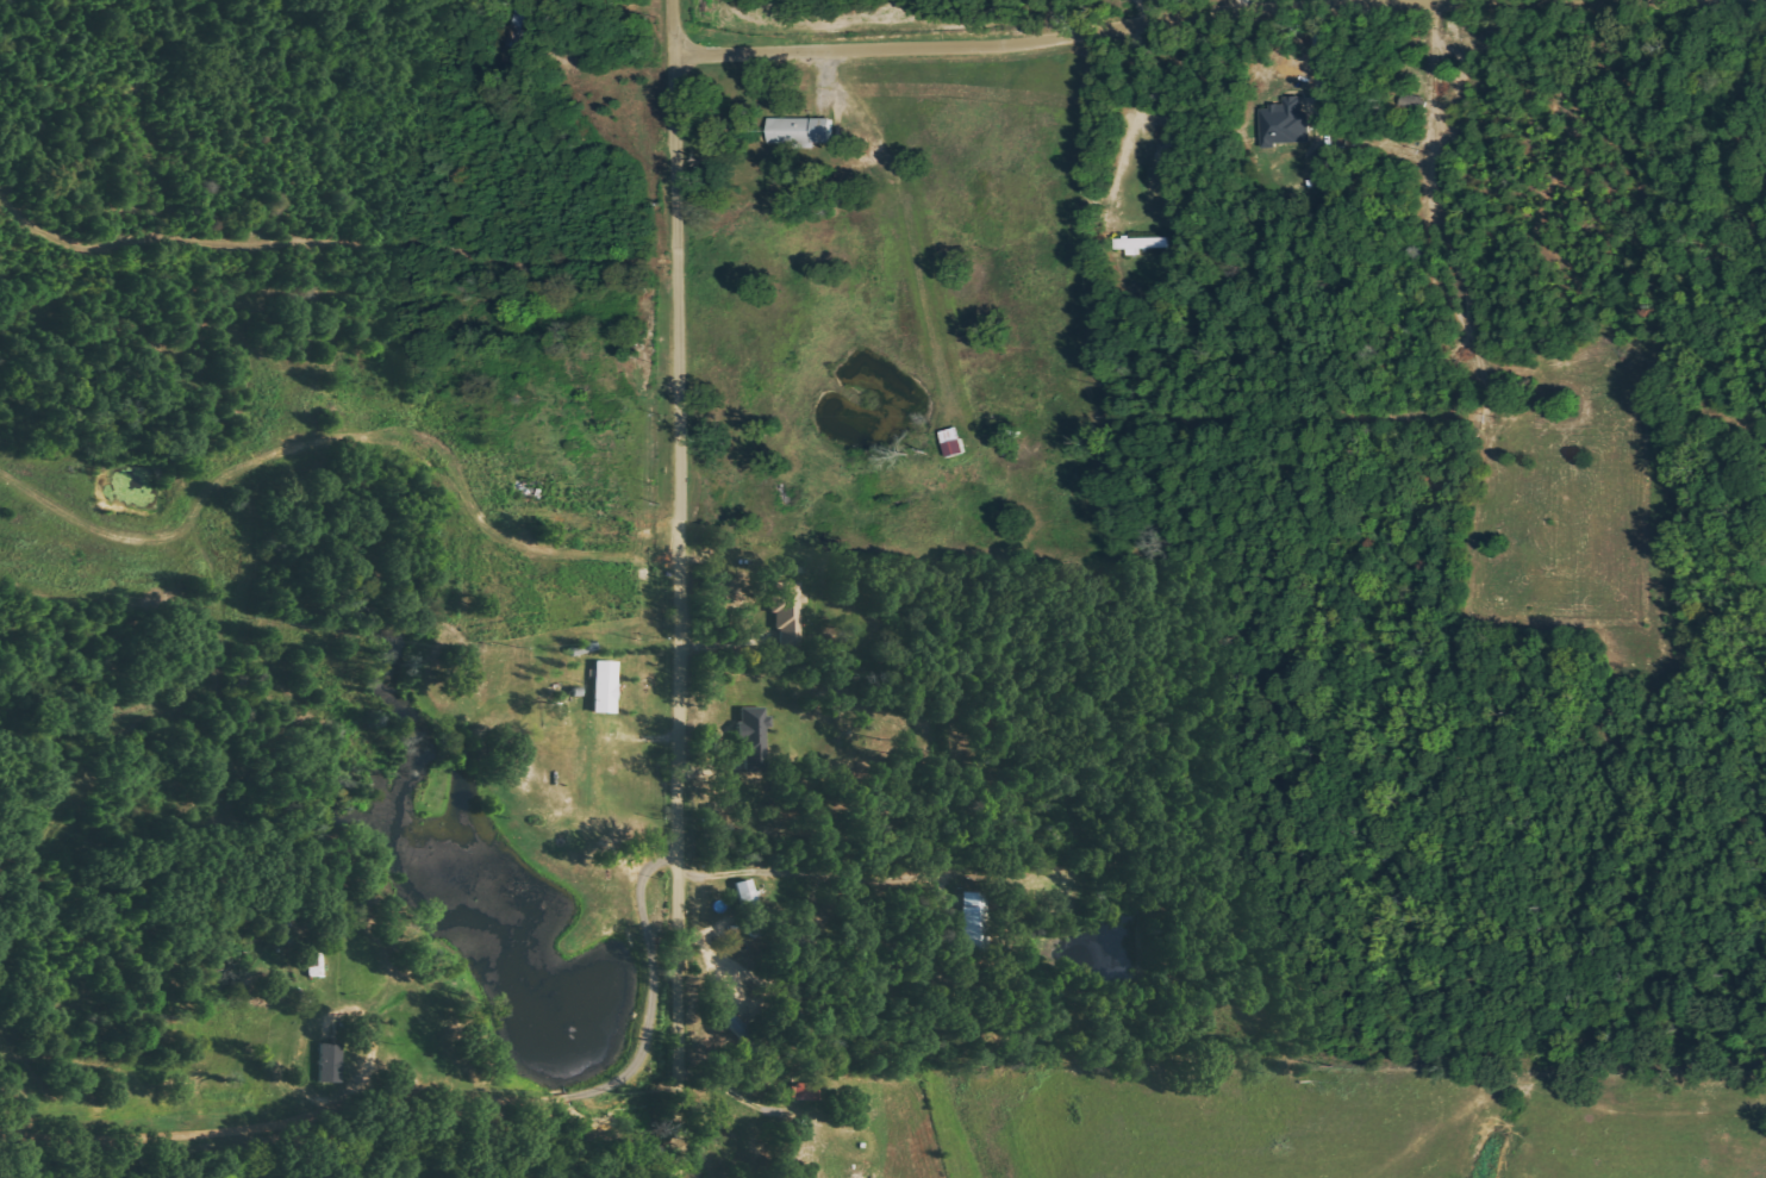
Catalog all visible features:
road: (1218, 13)
building: (1284, 123)
building: (799, 131)
building: (1137, 244)
building: (951, 442)
road: (680, 588)
building: (787, 607)
building: (603, 687)
building: (751, 738)
building: (745, 896)
building: (972, 922)
building: (327, 1062)
building: (803, 1092)

